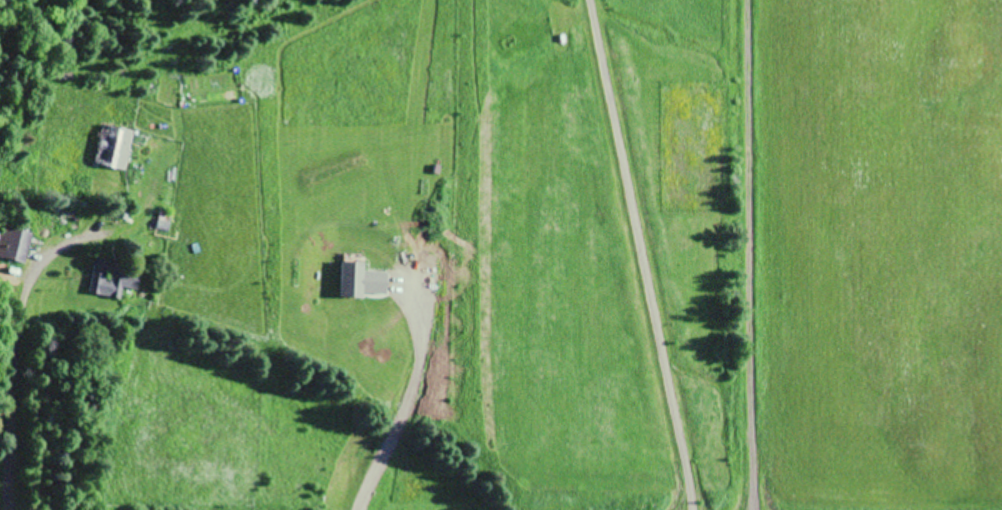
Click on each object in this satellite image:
building: (506, 46)
building: (114, 144)
building: (13, 242)
building: (112, 279)
road: (12, 351)

